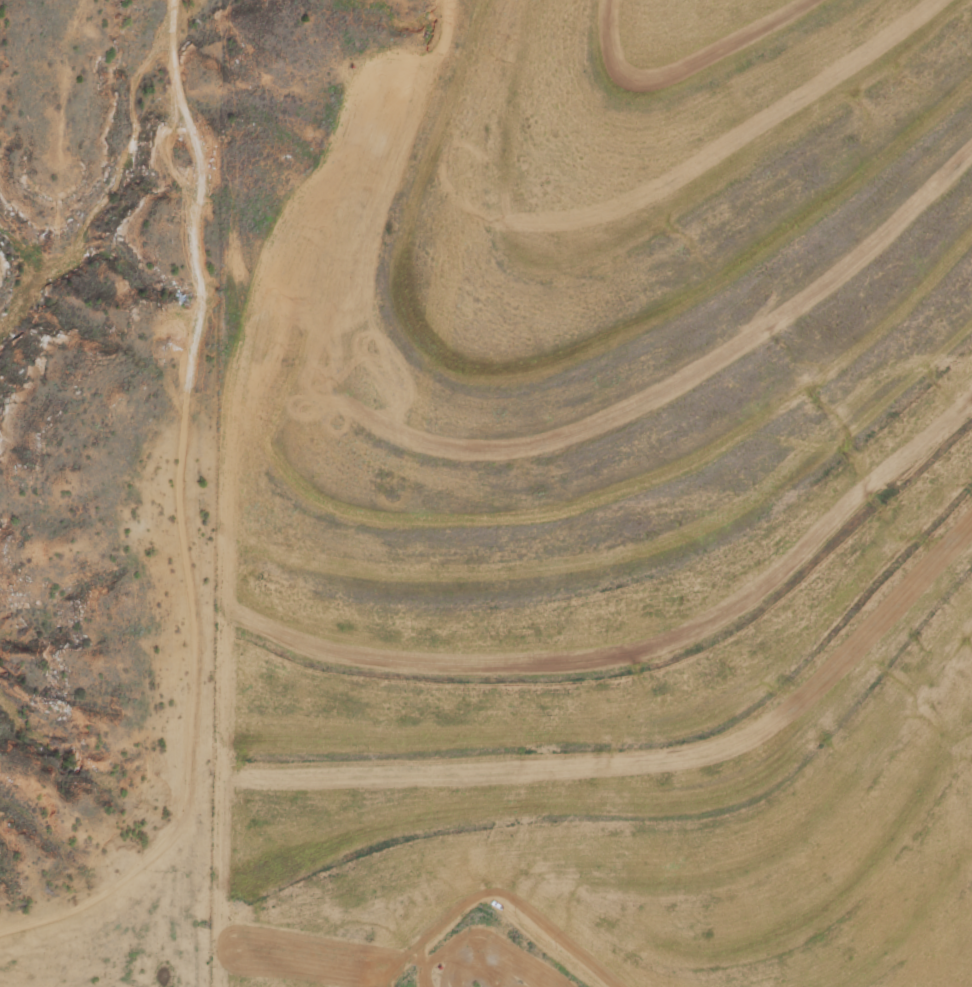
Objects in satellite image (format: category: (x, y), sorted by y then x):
road: (182, 514)

